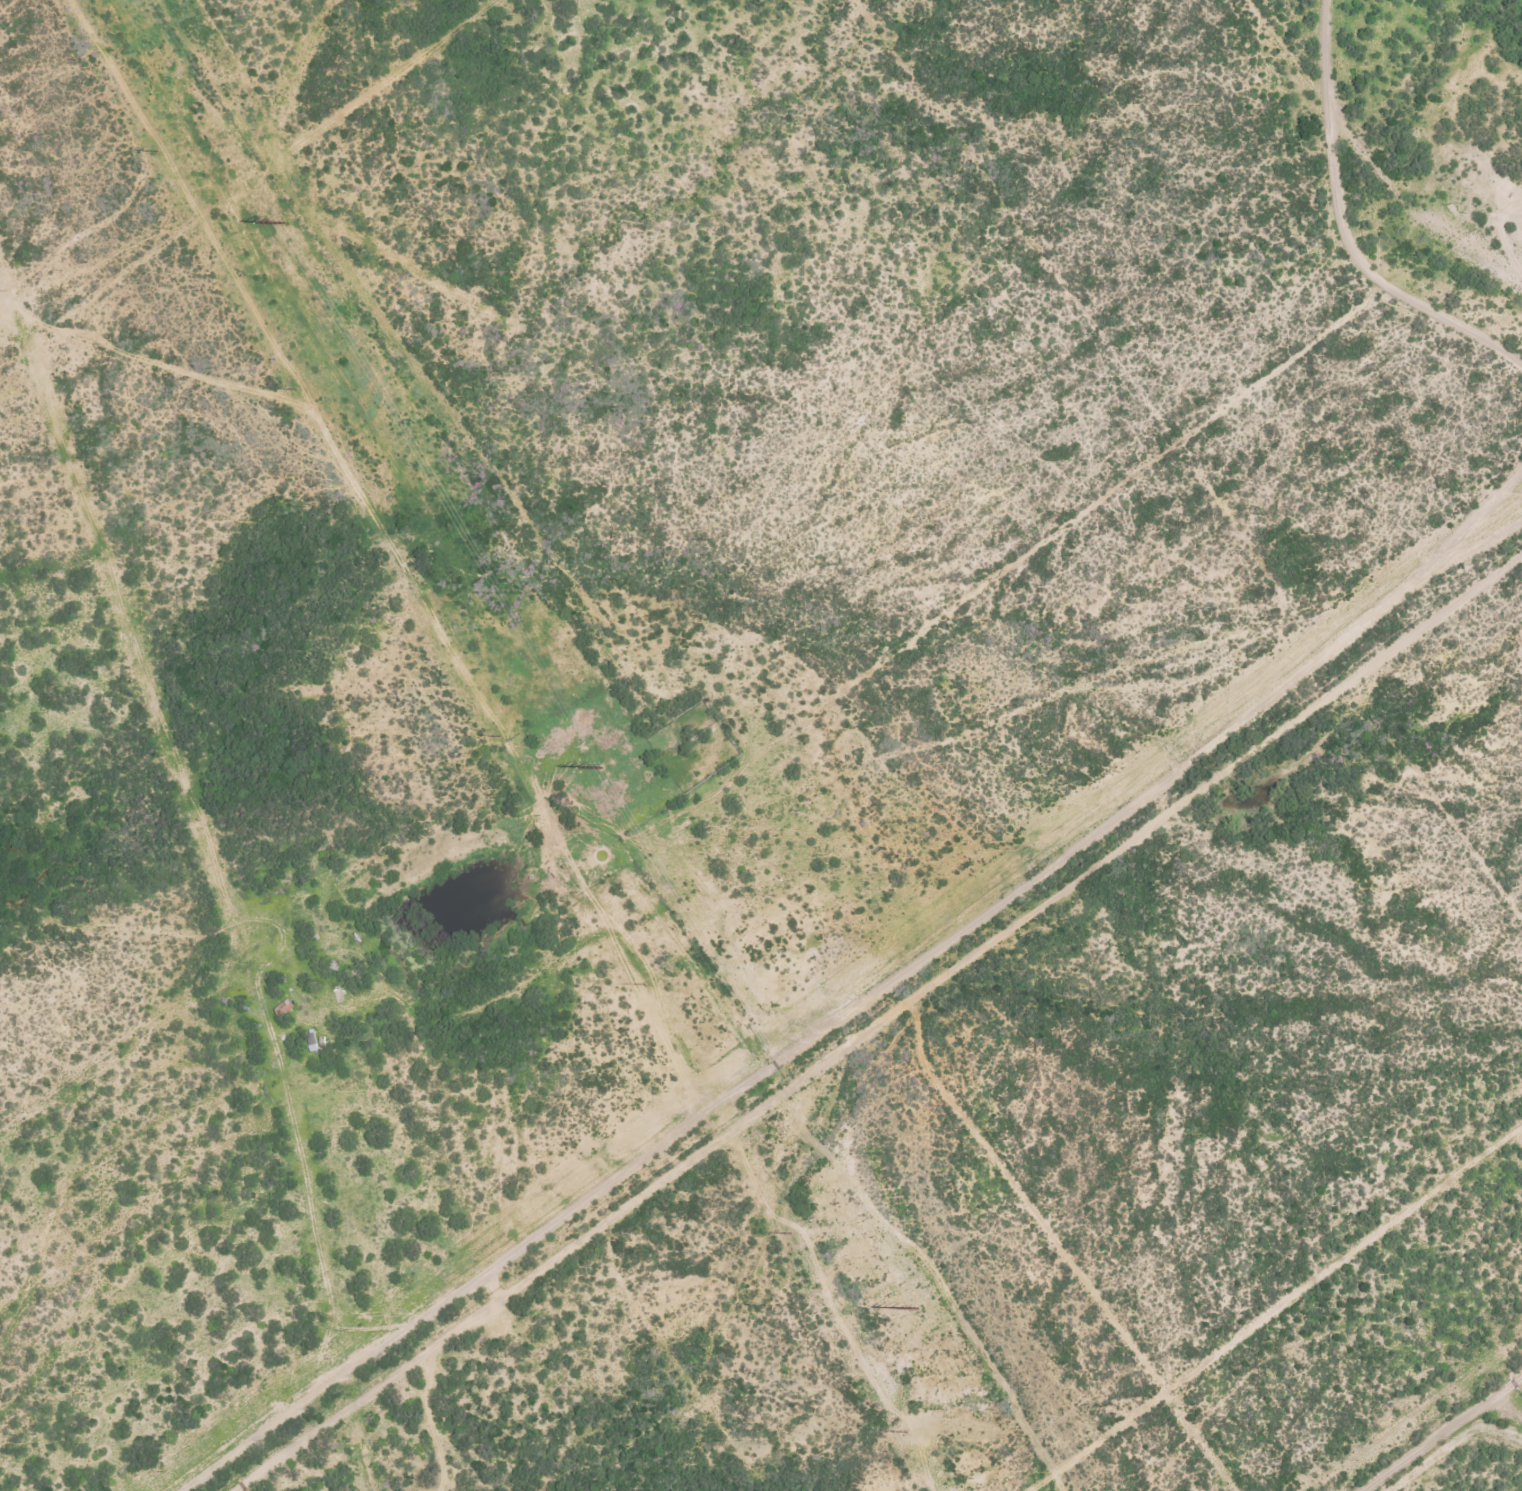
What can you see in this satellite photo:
road: (1316, 74)
power tower: (157, 150)
road: (1406, 157)
power tower: (279, 225)
road: (213, 265)
power tower: (296, 388)
power tower: (496, 736)
power tower: (595, 769)
road: (714, 878)
power tower: (641, 985)
power tower: (789, 1233)
power tower: (915, 1310)
road: (1311, 1357)
power tower: (905, 1431)

